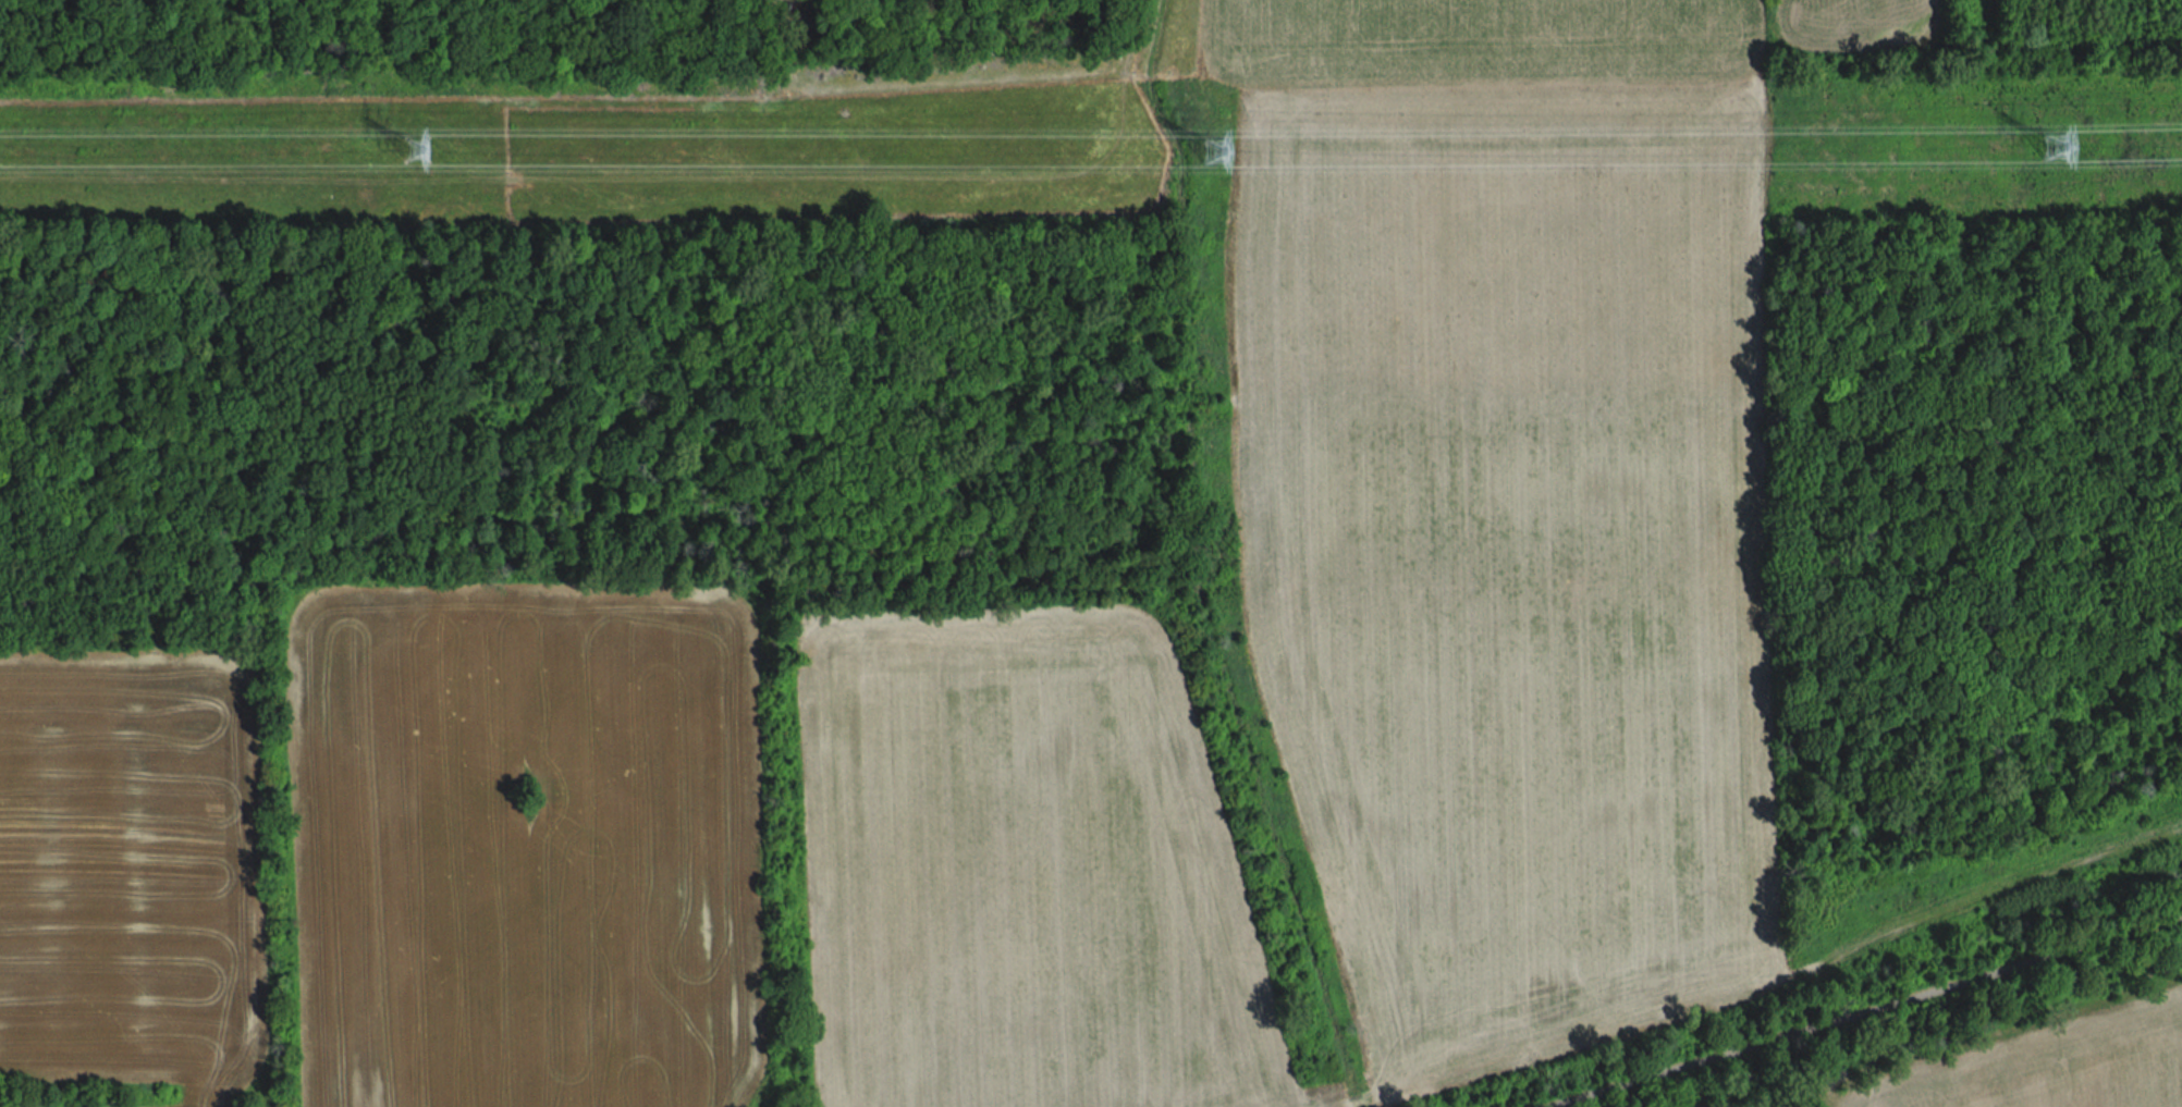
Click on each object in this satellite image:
crop: (1858, 24)
power tower: (2055, 153)
power tower: (416, 156)
power tower: (1211, 165)
crop: (1511, 504)
crop: (526, 846)
crop: (1022, 871)
crop: (127, 873)
road: (1867, 1012)
crop: (2057, 1066)

